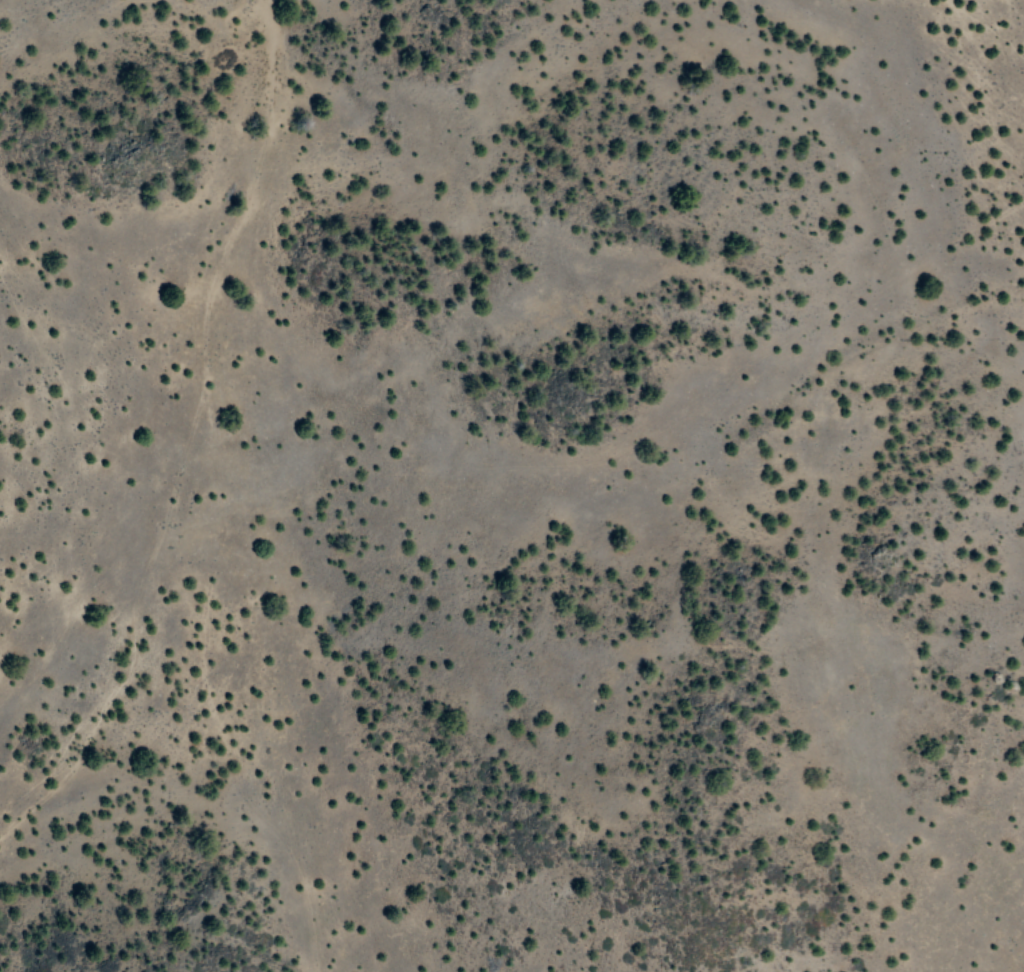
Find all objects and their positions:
road: (219, 494)
road: (134, 626)

